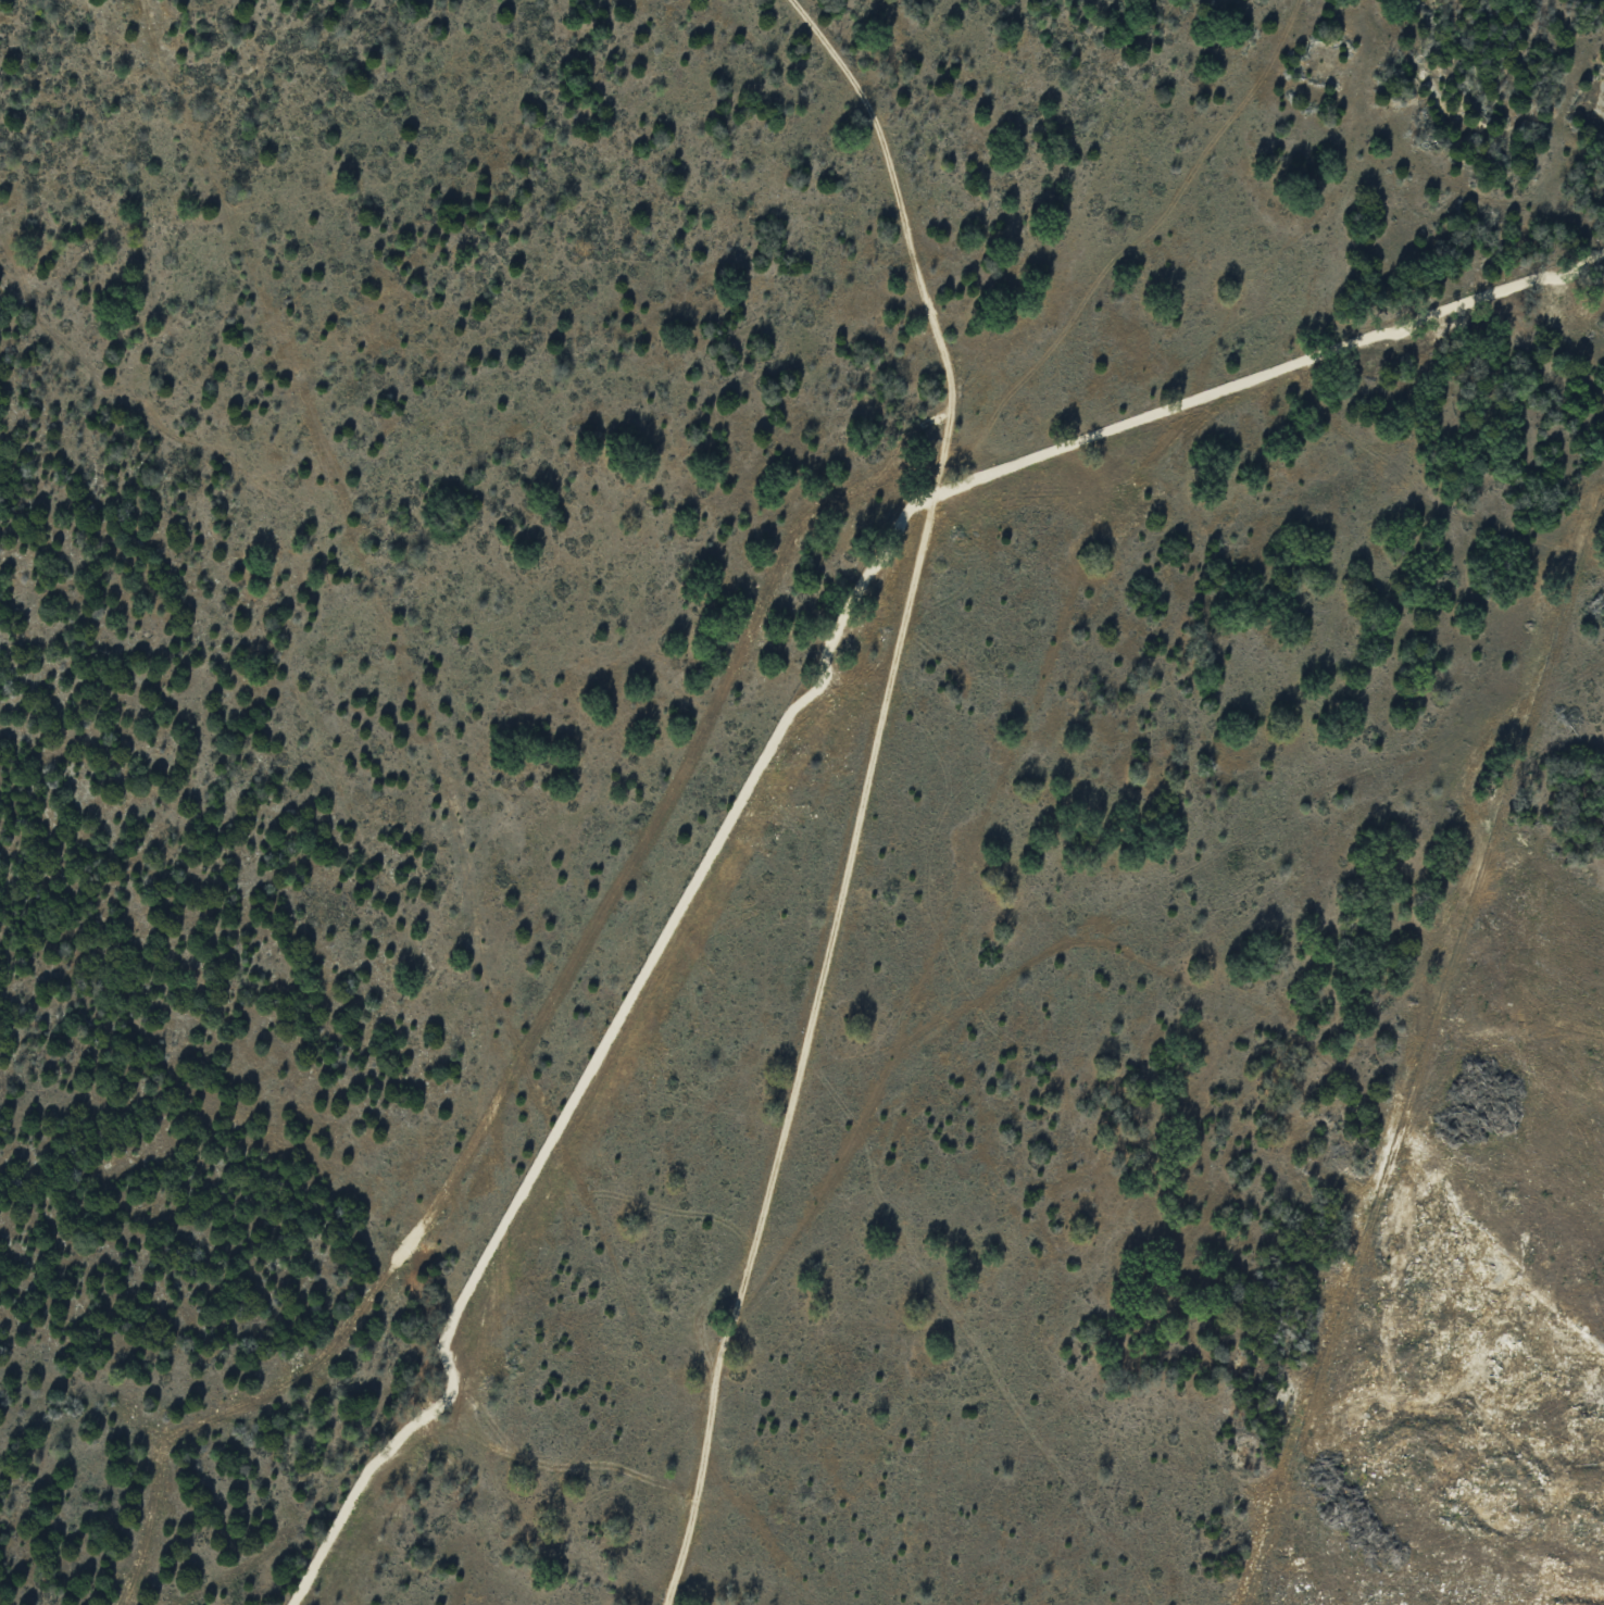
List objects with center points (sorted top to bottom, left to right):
road: (128, 0)
road: (860, 791)

